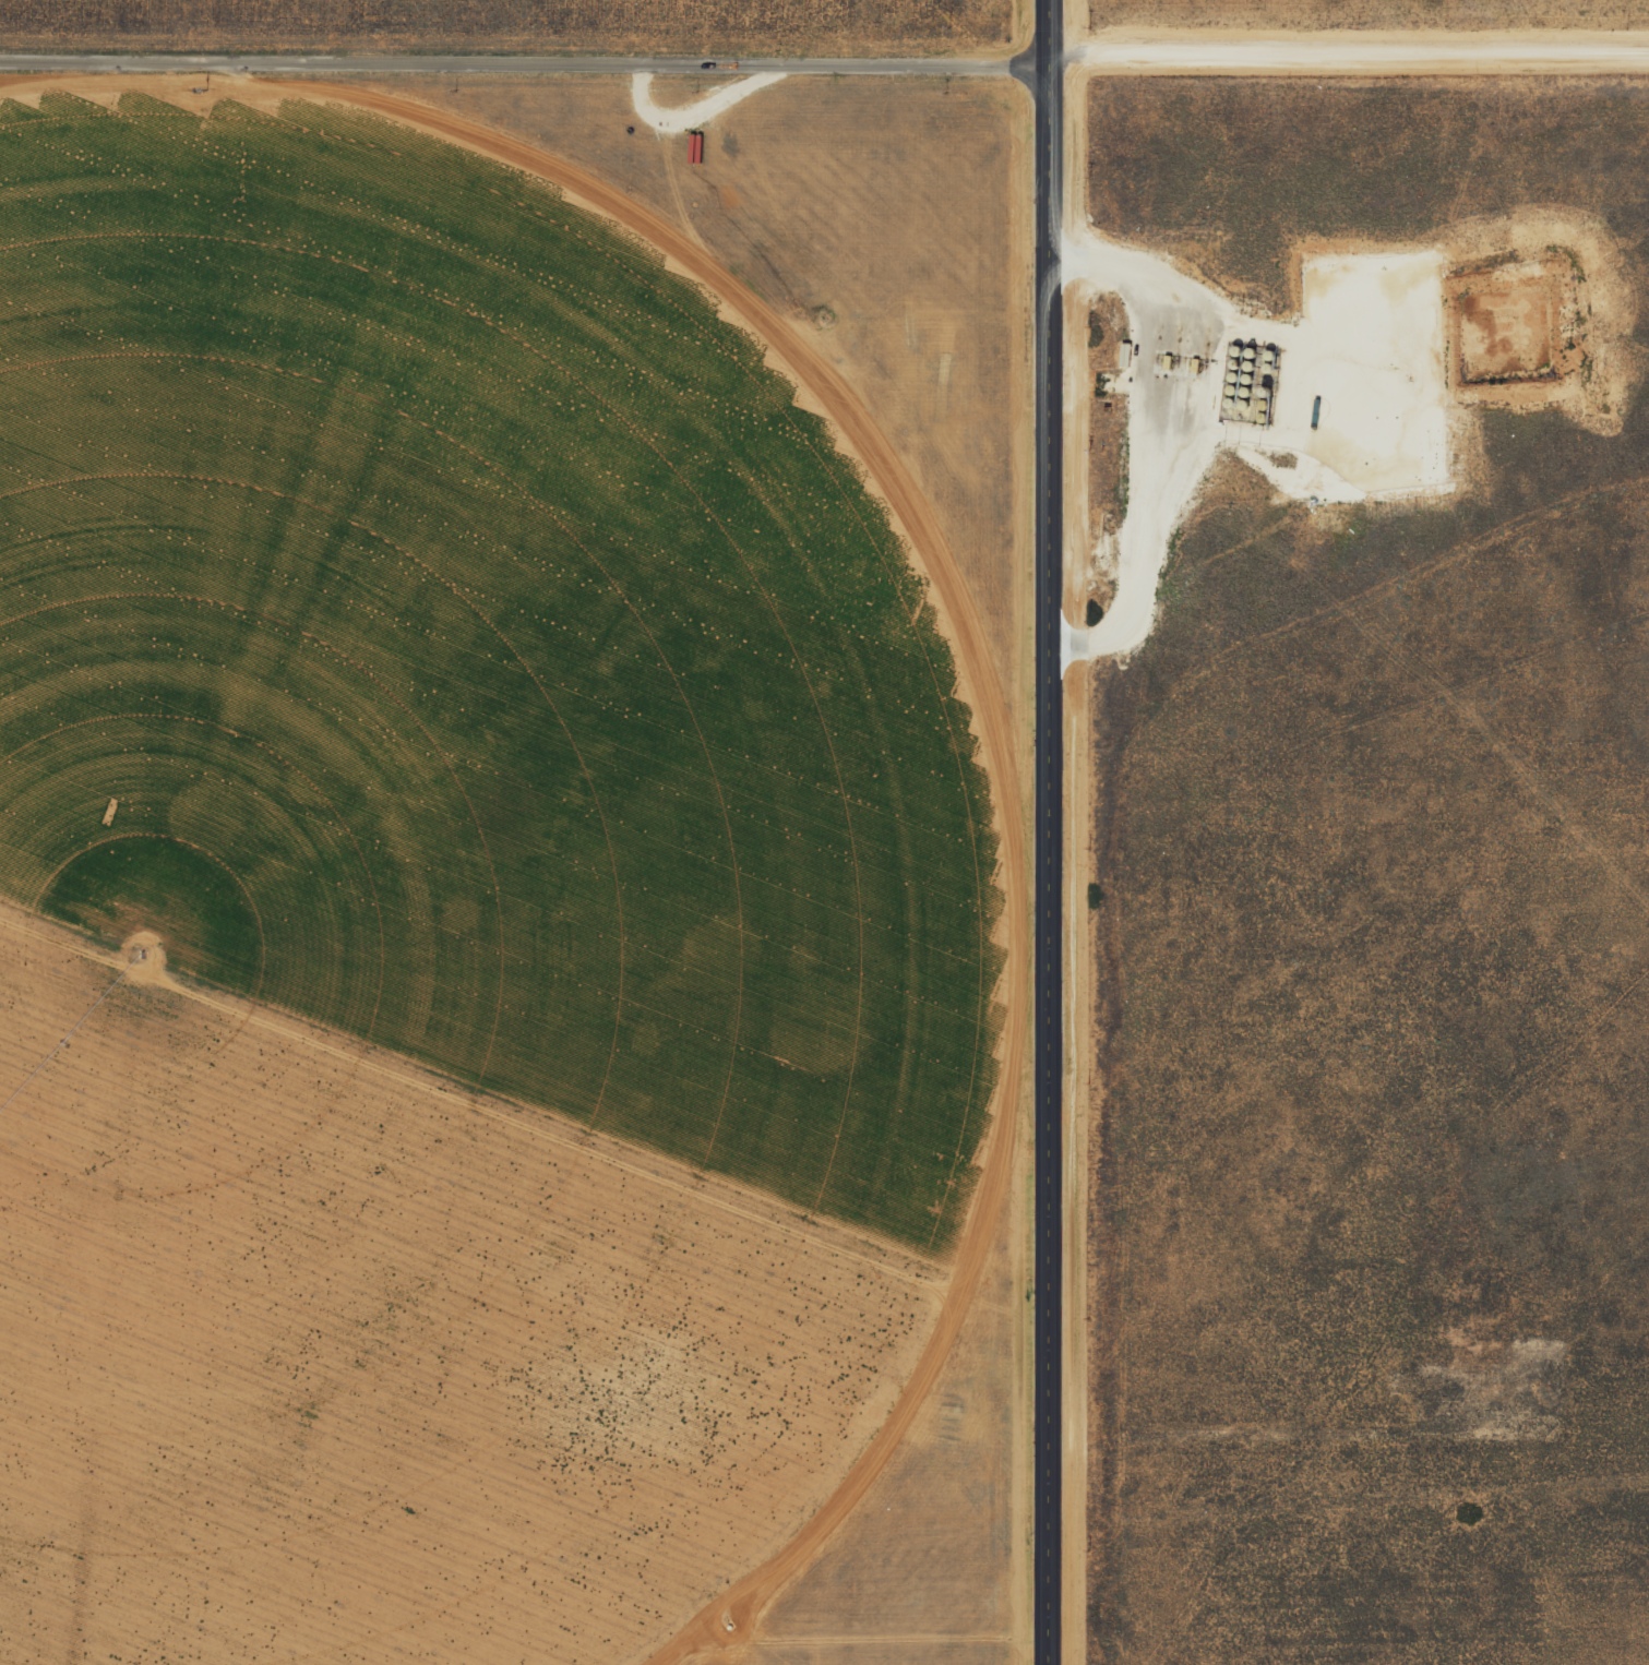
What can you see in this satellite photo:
road: (1350, 58)
road: (526, 59)
road: (1042, 831)

